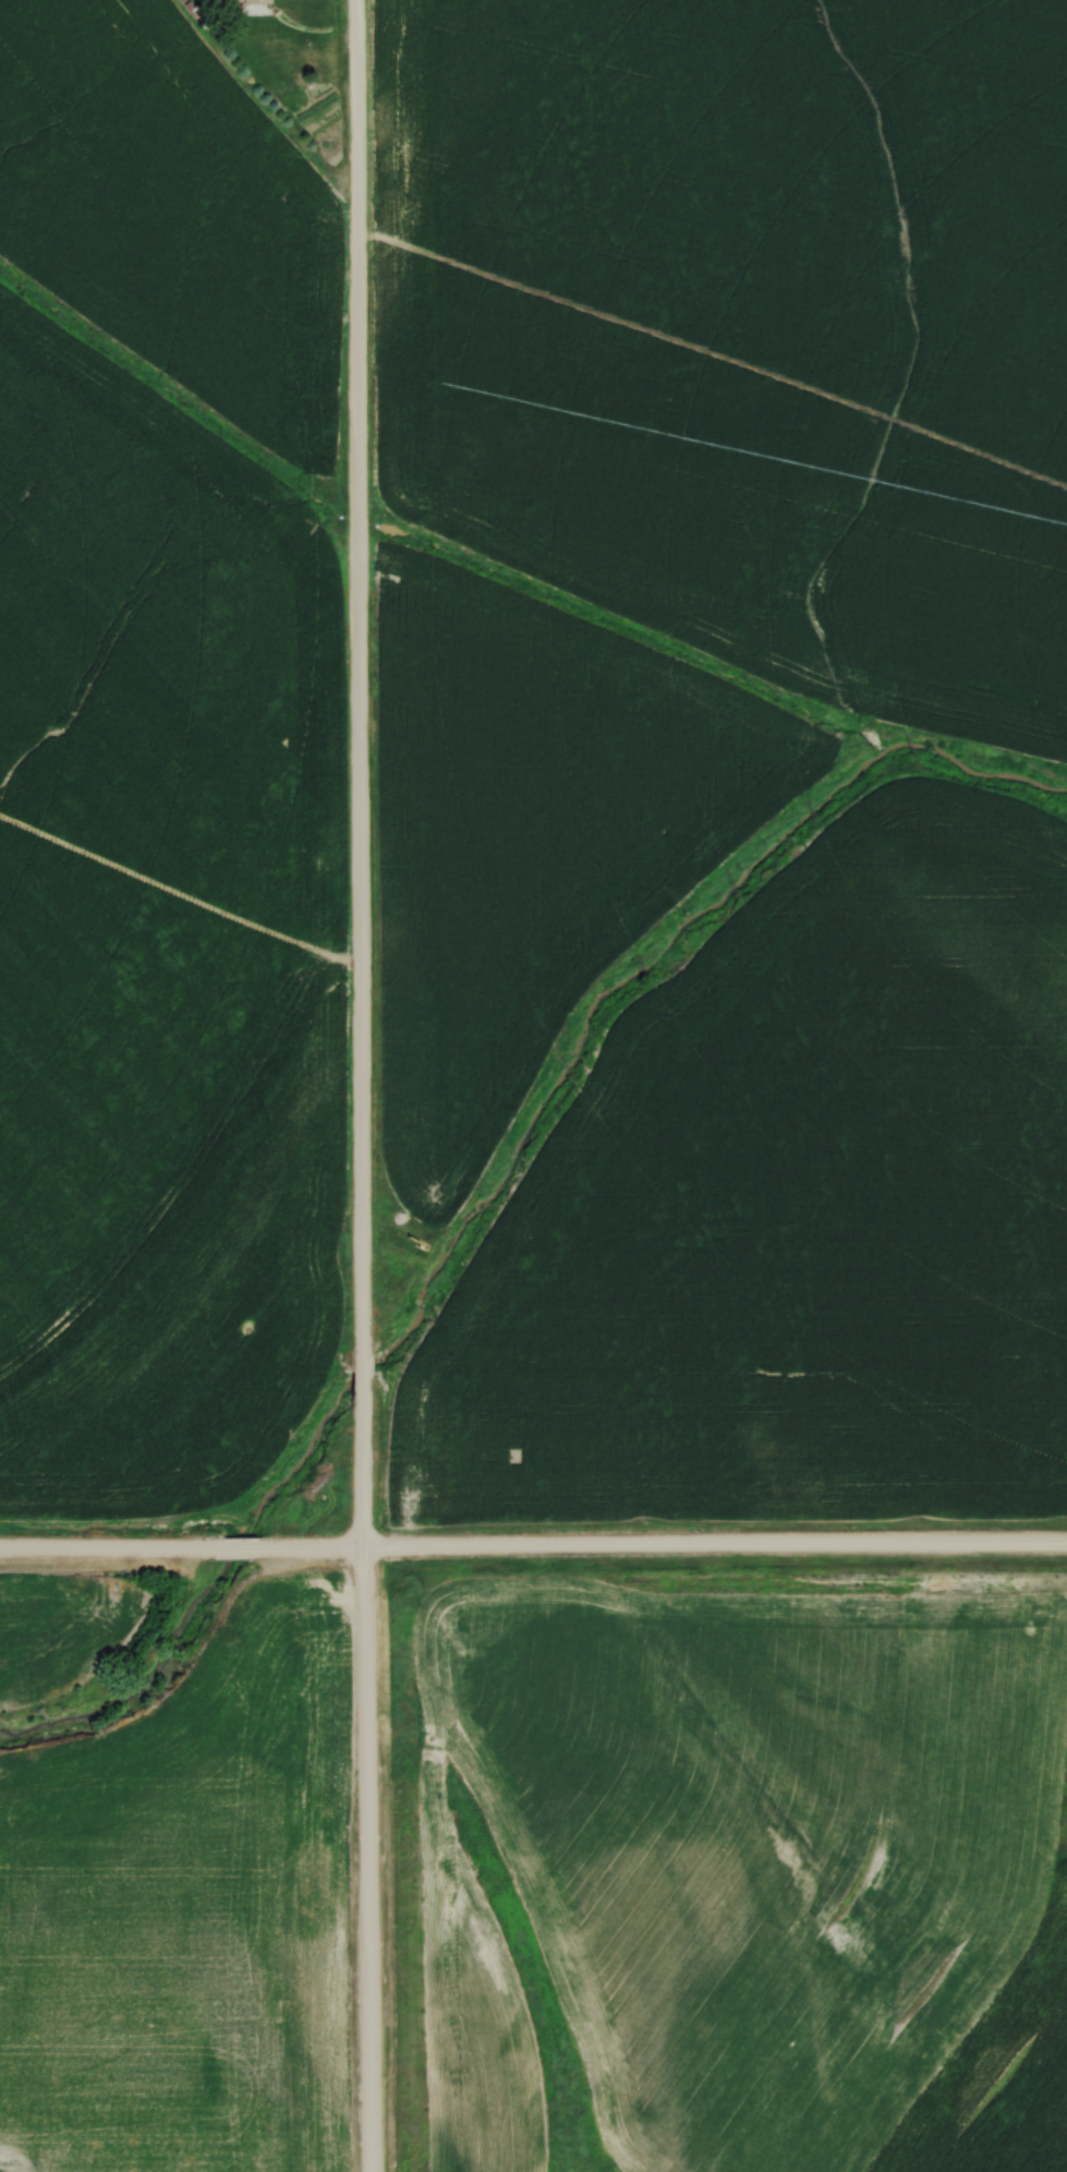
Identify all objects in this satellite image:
building: (251, 0)
road: (357, 679)
river: (500, 1192)
road: (367, 1381)
road: (667, 1546)
road: (242, 1548)
road: (108, 1549)
road: (371, 1787)

